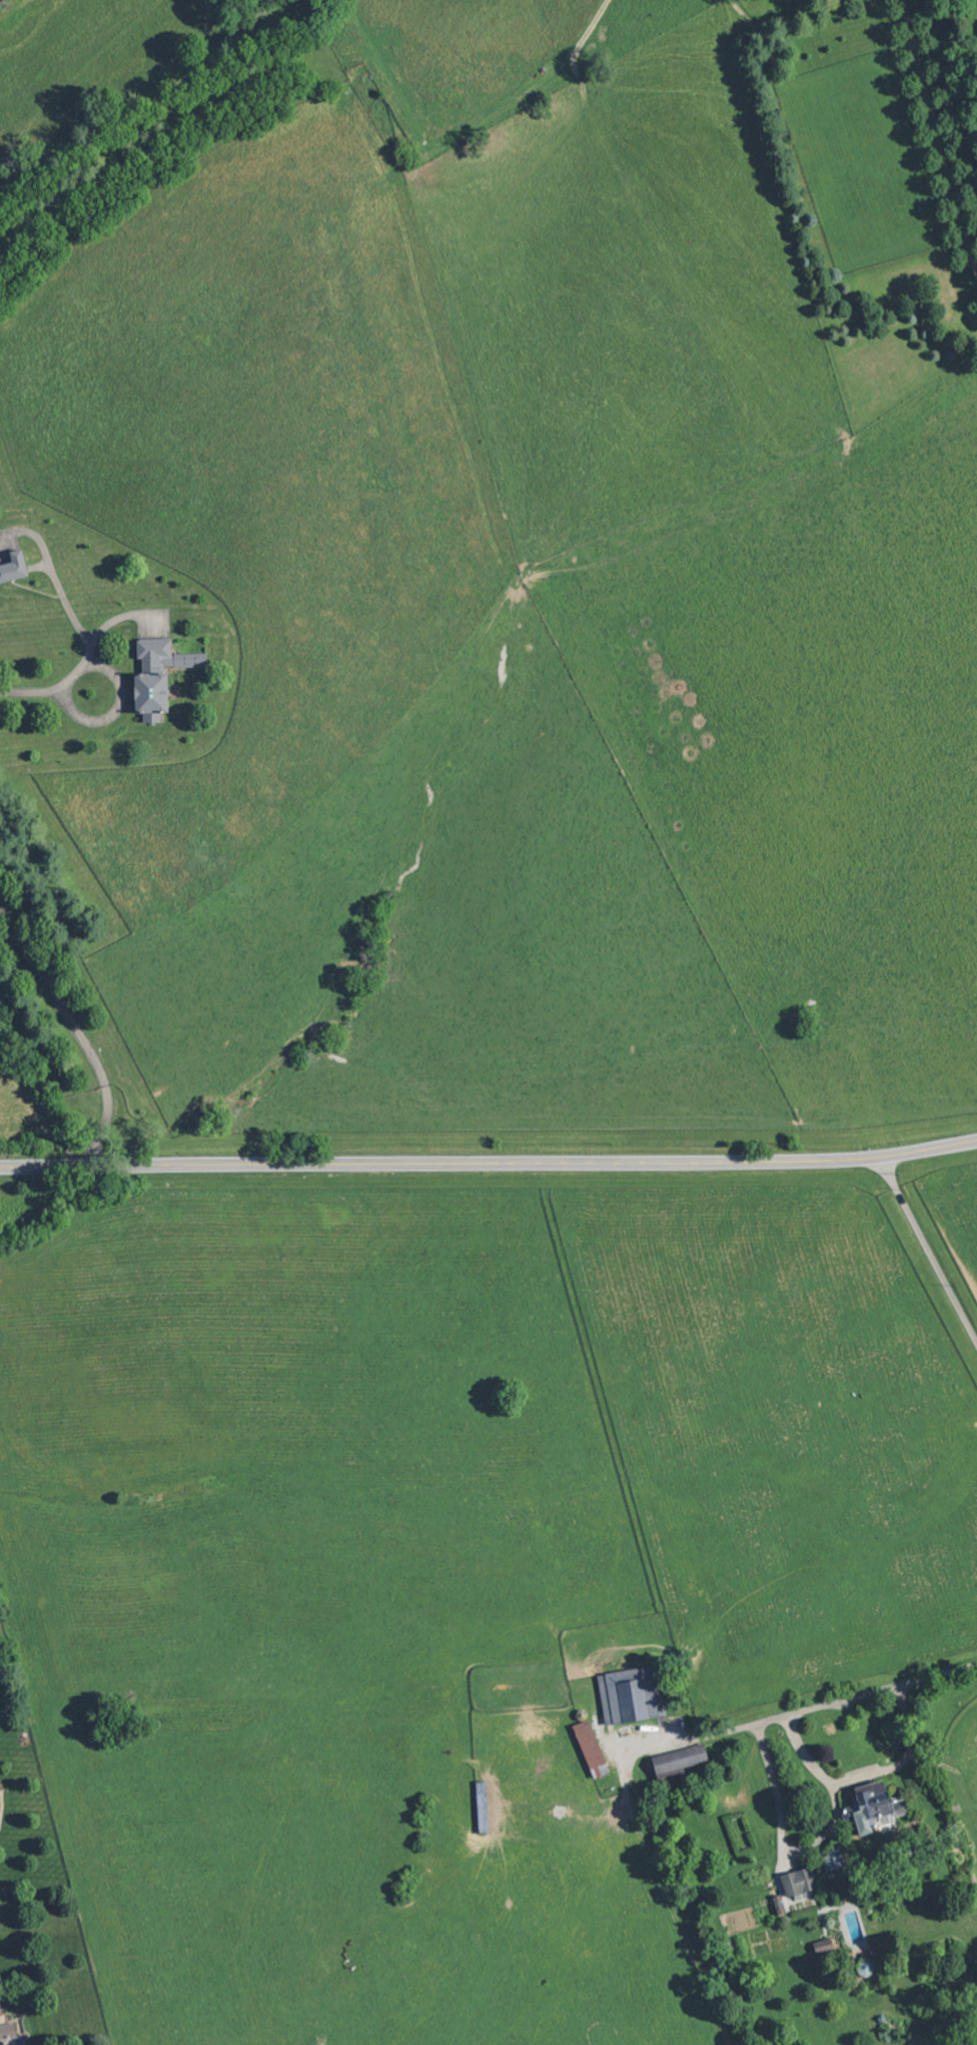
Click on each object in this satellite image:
road: (548, 72)
road: (938, 134)
building: (13, 566)
building: (158, 674)
road: (51, 688)
road: (74, 1031)
road: (489, 1162)
road: (927, 1249)
building: (630, 1695)
road: (809, 1708)
building: (590, 1748)
road: (903, 1758)
building: (677, 1762)
building: (873, 1809)
road: (810, 1843)
building: (833, 1859)
building: (799, 1881)
building: (823, 1945)
building: (7, 2030)

